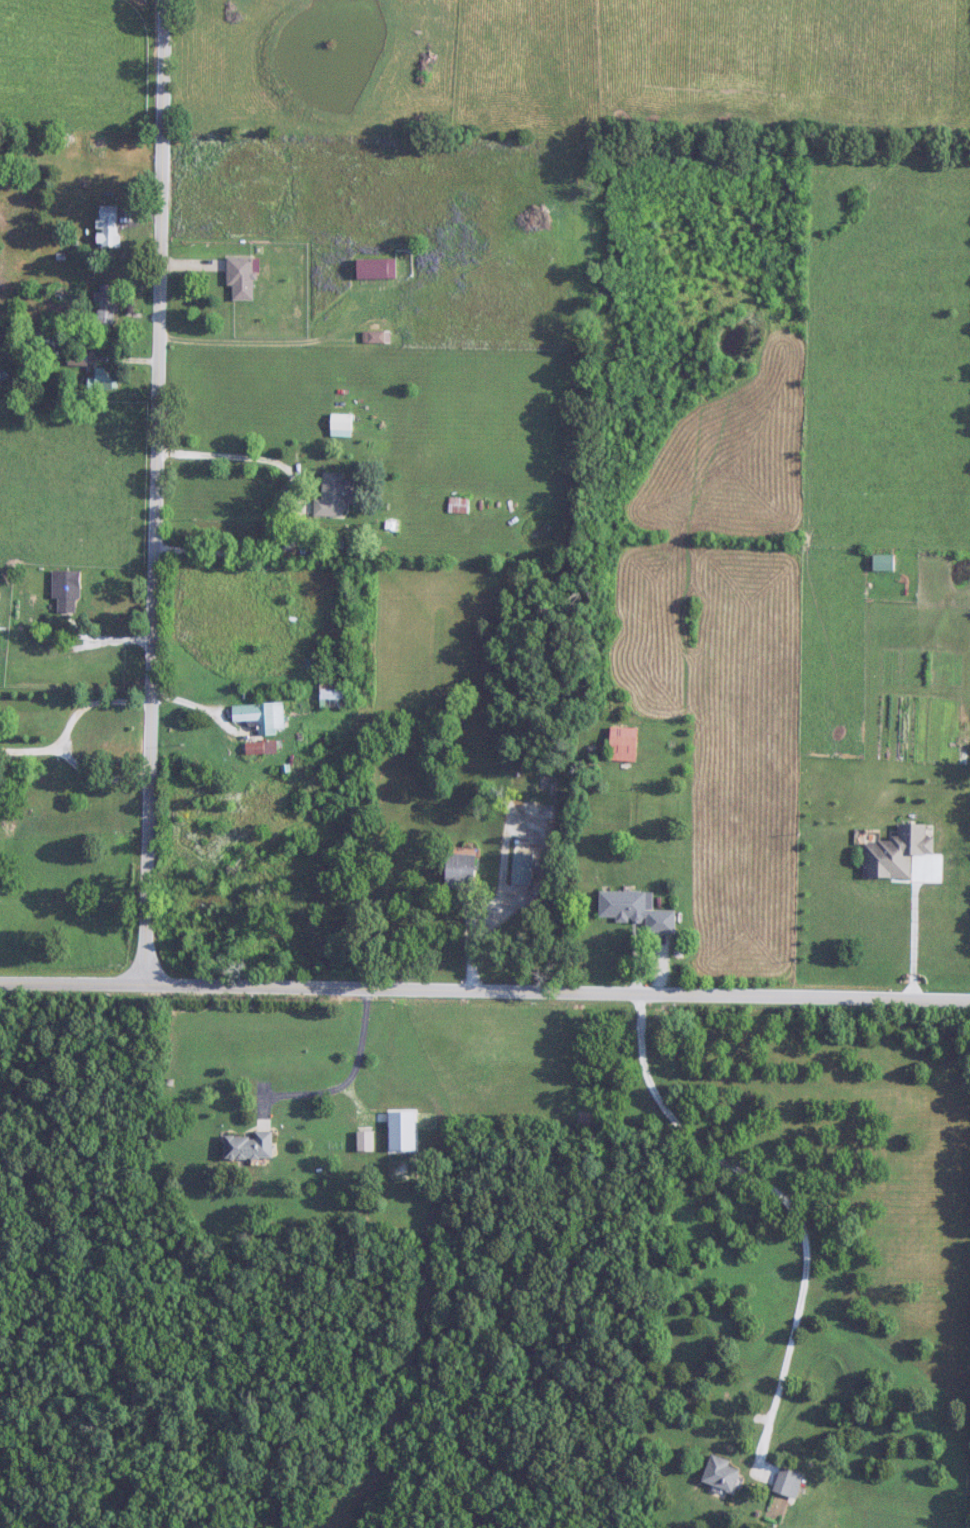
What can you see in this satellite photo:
building: (99, 142)
building: (108, 226)
building: (378, 269)
building: (241, 278)
building: (107, 305)
building: (377, 337)
building: (78, 358)
building: (104, 380)
building: (341, 424)
road: (153, 489)
building: (335, 496)
building: (459, 502)
road: (294, 507)
building: (66, 591)
building: (333, 696)
road: (197, 705)
building: (261, 716)
road: (63, 737)
building: (623, 745)
road: (31, 749)
building: (897, 853)
building: (523, 869)
building: (461, 870)
road: (494, 903)
building: (637, 910)
road: (913, 926)
road: (484, 987)
road: (343, 1082)
building: (365, 1142)
building: (249, 1147)
road: (783, 1200)
building: (721, 1474)
building: (788, 1483)

